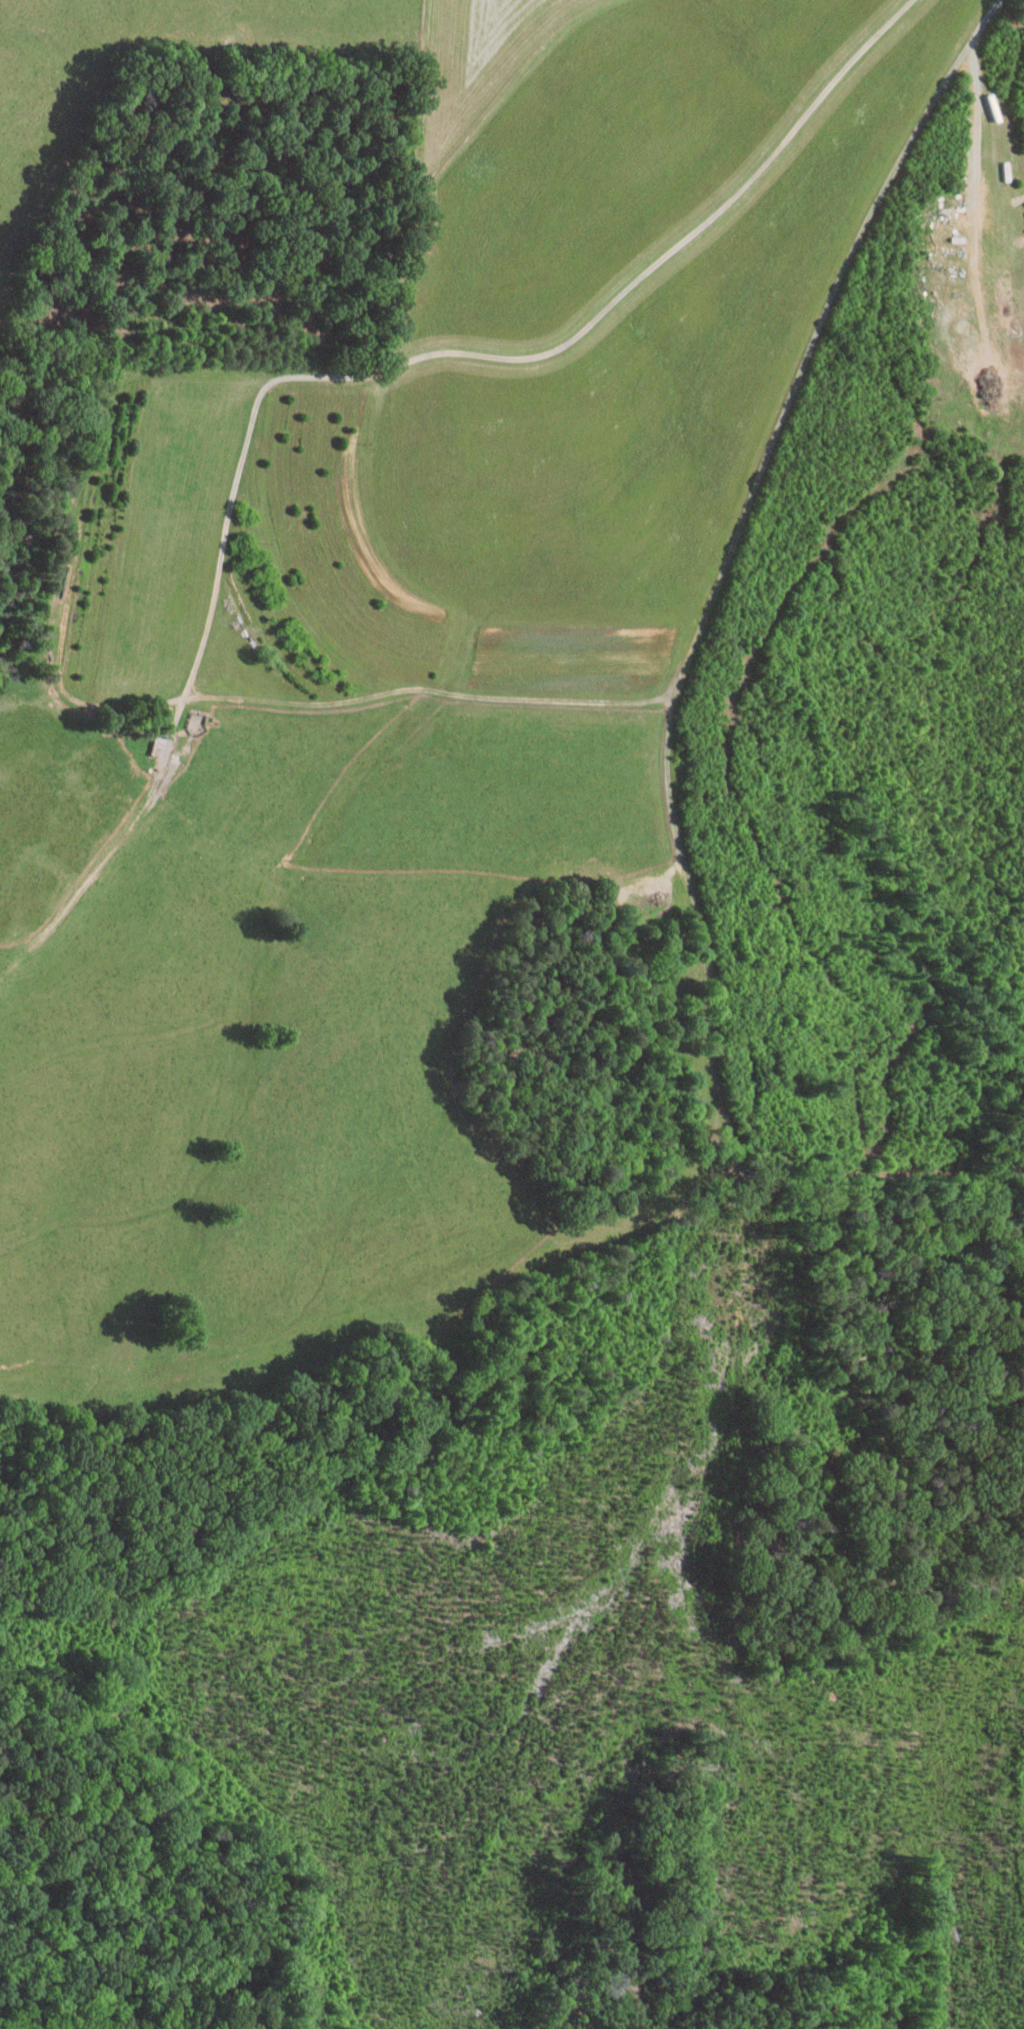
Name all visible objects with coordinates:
road: (991, 17)
road: (556, 107)
road: (722, 165)

